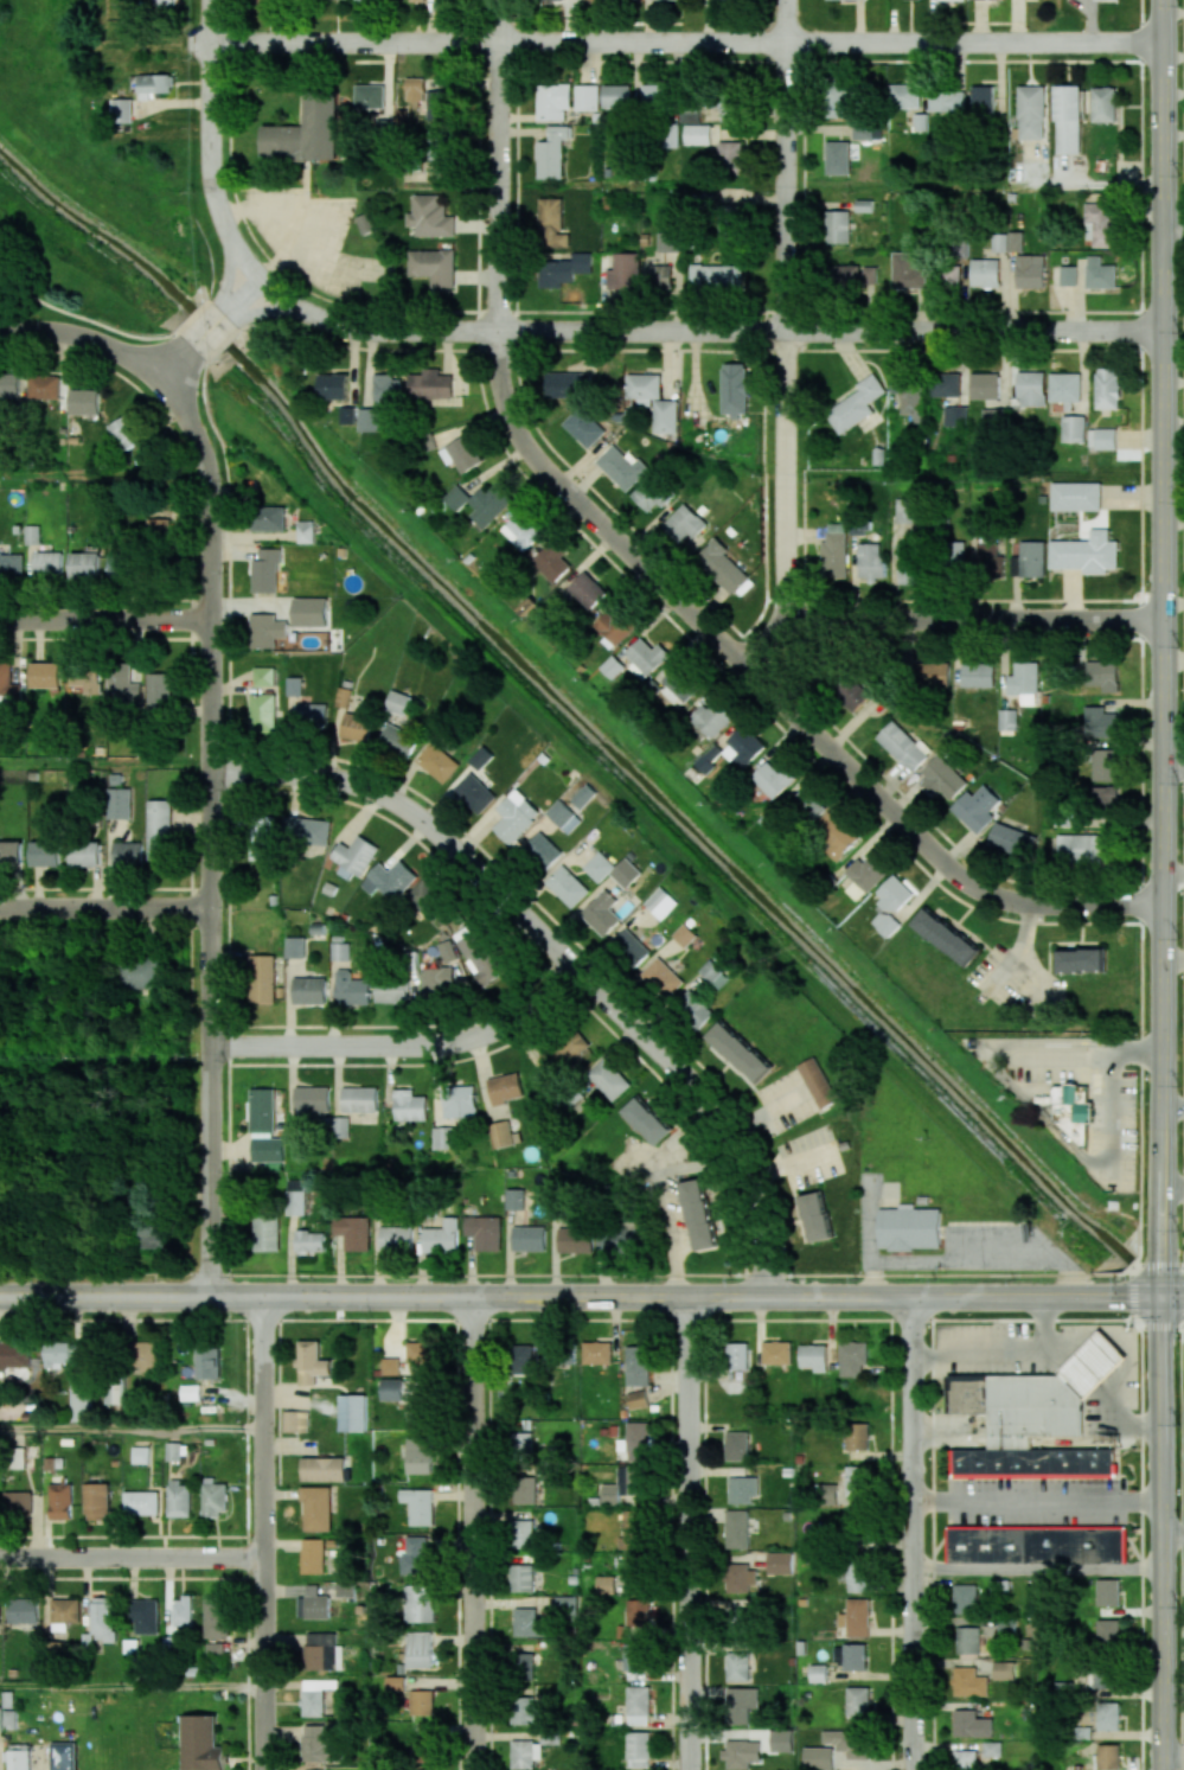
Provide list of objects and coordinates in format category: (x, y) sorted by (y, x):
building: (367, 0)
building: (418, 0)
building: (676, 0)
building: (953, 0)
building: (1107, 0)
building: (164, 1)
road: (686, 44)
building: (154, 84)
building: (415, 89)
building: (657, 94)
building: (370, 96)
building: (617, 96)
building: (904, 96)
building: (587, 97)
building: (983, 100)
building: (553, 101)
building: (839, 101)
building: (947, 101)
building: (439, 104)
building: (1103, 104)
building: (121, 109)
building: (728, 109)
building: (1031, 111)
building: (691, 116)
building: (1068, 119)
building: (862, 132)
building: (306, 133)
building: (698, 134)
road: (209, 143)
building: (552, 152)
building: (730, 156)
building: (433, 158)
building: (838, 158)
road: (499, 165)
road: (975, 186)
building: (429, 216)
building: (365, 223)
building: (551, 223)
building: (729, 223)
building: (1099, 224)
building: (837, 226)
road: (1175, 234)
building: (668, 241)
building: (1015, 241)
building: (999, 242)
park: (79, 249)
building: (433, 266)
building: (570, 267)
building: (1030, 270)
building: (623, 271)
building: (907, 271)
building: (985, 273)
building: (1100, 273)
building: (658, 275)
building: (855, 275)
building: (1068, 275)
building: (717, 276)
road: (242, 294)
road: (205, 303)
road: (194, 313)
road: (94, 322)
road: (209, 330)
road: (703, 330)
road: (83, 336)
road: (787, 341)
road: (174, 362)
building: (8, 384)
building: (430, 384)
building: (568, 384)
building: (946, 384)
building: (333, 385)
building: (985, 385)
building: (44, 386)
building: (644, 388)
building: (1065, 388)
building: (1108, 388)
building: (388, 389)
building: (735, 389)
building: (1031, 389)
building: (910, 395)
building: (85, 401)
building: (856, 404)
building: (348, 415)
building: (993, 415)
building: (665, 416)
building: (955, 416)
building: (370, 418)
building: (584, 426)
building: (1074, 428)
building: (127, 432)
building: (1102, 437)
building: (461, 453)
building: (621, 466)
road: (103, 474)
building: (651, 493)
building: (1076, 496)
building: (456, 497)
building: (488, 504)
building: (907, 510)
building: (269, 518)
building: (684, 523)
building: (159, 525)
building: (521, 530)
building: (306, 531)
building: (32, 533)
building: (1086, 552)
building: (833, 554)
building: (956, 554)
building: (988, 558)
building: (1029, 560)
building: (551, 561)
building: (870, 561)
building: (47, 562)
building: (120, 562)
building: (907, 563)
building: (11, 564)
building: (85, 565)
building: (721, 565)
building: (267, 568)
building: (584, 588)
building: (309, 612)
road: (103, 618)
road: (975, 620)
building: (613, 621)
building: (265, 630)
road: (1165, 647)
building: (646, 657)
building: (613, 666)
building: (46, 675)
building: (932, 675)
building: (978, 675)
building: (1102, 675)
building: (89, 678)
building: (676, 682)
building: (1024, 682)
building: (8, 684)
building: (293, 685)
building: (123, 686)
building: (159, 690)
building: (852, 691)
road: (773, 694)
traffic signals: (1165, 694)
building: (343, 696)
building: (265, 698)
building: (398, 702)
river: (563, 707)
building: (309, 715)
building: (711, 716)
building: (1007, 720)
building: (1100, 721)
building: (356, 728)
building: (397, 740)
building: (902, 746)
building: (743, 747)
building: (480, 758)
building: (708, 758)
road: (104, 761)
building: (437, 762)
building: (1105, 765)
road: (1175, 766)
building: (942, 777)
building: (773, 779)
building: (474, 793)
building: (584, 795)
building: (1103, 798)
building: (120, 803)
building: (808, 804)
building: (977, 807)
building: (514, 816)
building: (563, 816)
building: (159, 830)
road: (210, 830)
building: (307, 830)
building: (837, 837)
building: (263, 839)
building: (1012, 841)
building: (1079, 846)
building: (542, 851)
building: (11, 852)
building: (45, 852)
building: (85, 854)
building: (127, 854)
building: (354, 856)
building: (599, 865)
building: (626, 873)
building: (868, 873)
road: (1175, 876)
building: (389, 880)
building: (567, 886)
building: (856, 890)
building: (431, 902)
building: (661, 902)
building: (890, 905)
road: (104, 908)
building: (601, 912)
building: (685, 934)
building: (946, 937)
building: (295, 947)
building: (629, 947)
building: (340, 951)
building: (447, 951)
road: (561, 953)
building: (480, 957)
building: (1082, 960)
road: (1175, 963)
building: (140, 973)
building: (715, 973)
building: (263, 978)
building: (663, 978)
building: (437, 983)
building: (351, 988)
building: (309, 990)
building: (392, 990)
building: (695, 1008)
road: (404, 1046)
building: (563, 1050)
building: (738, 1050)
building: (609, 1078)
road: (1116, 1081)
building: (818, 1082)
building: (505, 1087)
building: (312, 1098)
building: (359, 1099)
building: (459, 1100)
building: (409, 1105)
road: (1173, 1107)
building: (262, 1110)
building: (1070, 1112)
building: (646, 1119)
building: (341, 1126)
building: (501, 1133)
building: (442, 1137)
road: (681, 1137)
building: (268, 1149)
road: (1173, 1183)
road: (664, 1196)
building: (295, 1197)
building: (516, 1199)
building: (698, 1213)
building: (817, 1216)
building: (909, 1228)
building: (353, 1232)
building: (485, 1232)
building: (267, 1233)
building: (153, 1235)
building: (442, 1237)
building: (619, 1237)
building: (396, 1238)
building: (529, 1238)
building: (575, 1239)
building: (311, 1240)
road: (594, 1274)
river: (1157, 1290)
traffic signals: (1163, 1296)
road: (1173, 1296)
traffic signals: (39, 1297)
road: (581, 1297)
road: (591, 1319)
road: (1050, 1334)
road: (981, 1349)
parking lot: (986, 1349)
building: (418, 1352)
building: (597, 1352)
building: (776, 1352)
building: (13, 1355)
building: (146, 1355)
building: (737, 1355)
building: (813, 1356)
building: (852, 1357)
building: (524, 1359)
road: (1095, 1361)
building: (312, 1362)
building: (209, 1363)
building: (390, 1365)
building: (638, 1365)
building: (114, 1389)
building: (190, 1392)
gas station: (1049, 1394)
building: (402, 1397)
building: (636, 1399)
building: (353, 1412)
road: (1122, 1414)
building: (295, 1420)
road: (132, 1430)
building: (857, 1436)
building: (636, 1440)
building: (523, 1444)
building: (737, 1445)
building: (173, 1450)
building: (140, 1455)
building: (418, 1455)
building: (1035, 1463)
building: (322, 1469)
building: (856, 1480)
building: (743, 1488)
building: (525, 1489)
building: (215, 1497)
building: (179, 1499)
building: (60, 1501)
building: (96, 1501)
building: (18, 1502)
building: (141, 1502)
parking lot: (1036, 1502)
road: (1036, 1502)
building: (418, 1506)
building: (316, 1508)
building: (629, 1529)
building: (737, 1529)
road: (263, 1533)
road: (472, 1533)
building: (523, 1533)
road: (687, 1533)
road: (910, 1533)
road: (1163, 1533)
road: (1182, 1536)
road: (1173, 1538)
road: (940, 1540)
road: (1141, 1542)
building: (1037, 1544)
road: (704, 1545)
road: (891, 1545)
road: (932, 1545)
road: (1133, 1545)
building: (415, 1554)
building: (312, 1555)
road: (132, 1557)
building: (779, 1563)
building: (634, 1568)
road: (1036, 1568)
building: (521, 1578)
building: (740, 1578)
building: (857, 1578)
building: (606, 1584)
building: (999, 1586)
building: (345, 1589)
building: (1107, 1592)
building: (965, 1598)
building: (314, 1602)
building: (418, 1603)
building: (23, 1611)
building: (181, 1611)
building: (64, 1612)
building: (638, 1612)
building: (145, 1615)
building: (216, 1617)
building: (856, 1617)
building: (102, 1618)
building: (738, 1619)
building: (0, 1621)
building: (526, 1622)
building: (1007, 1627)
building: (1108, 1634)
building: (968, 1640)
building: (130, 1648)
building: (215, 1648)
building: (418, 1649)
building: (321, 1650)
building: (634, 1656)
building: (850, 1656)
building: (523, 1666)
building: (737, 1666)
building: (1004, 1670)
building: (818, 1673)
building: (1105, 1675)
building: (968, 1682)
road: (132, 1686)
building: (1064, 1689)
building: (316, 1694)
building: (421, 1701)
building: (857, 1701)
building: (741, 1702)
building: (638, 1705)
building: (525, 1711)
building: (1108, 1715)
building: (0, 1718)
building: (9, 1719)
building: (972, 1724)
building: (1082, 1732)
building: (782, 1739)
building: (200, 1743)
building: (850, 1743)
building: (315, 1744)
road: (1183, 1744)
building: (422, 1746)
building: (638, 1749)
building: (992, 1749)
building: (525, 1753)
building: (741, 1753)
building: (64, 1756)
building: (1107, 1756)
road: (1173, 1756)
road: (1182, 1757)
building: (818, 1758)
building: (19, 1759)
building: (965, 1759)

